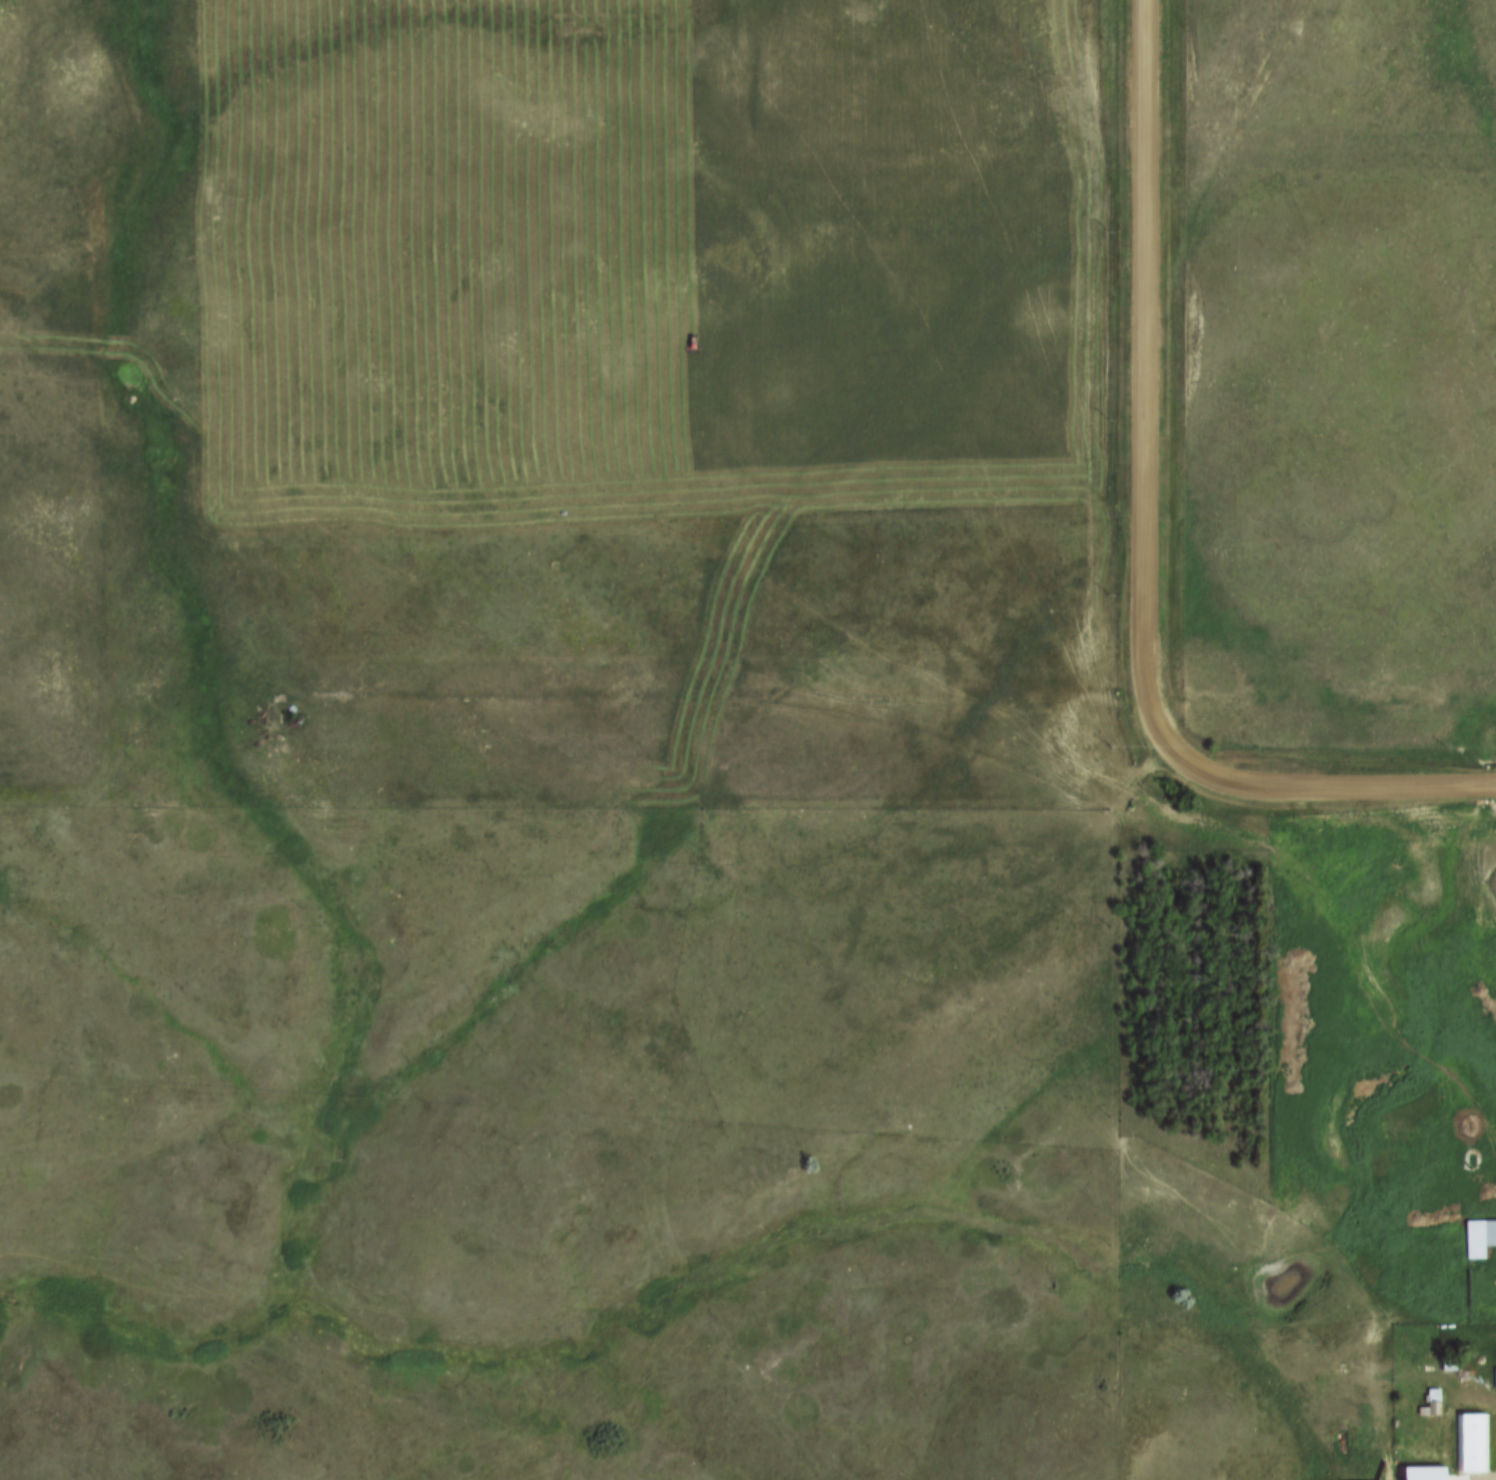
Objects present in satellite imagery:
road: (1144, 546)
building: (1478, 1238)
building: (1493, 1379)
building: (1429, 1403)
building: (1470, 1443)
building: (1407, 1475)

